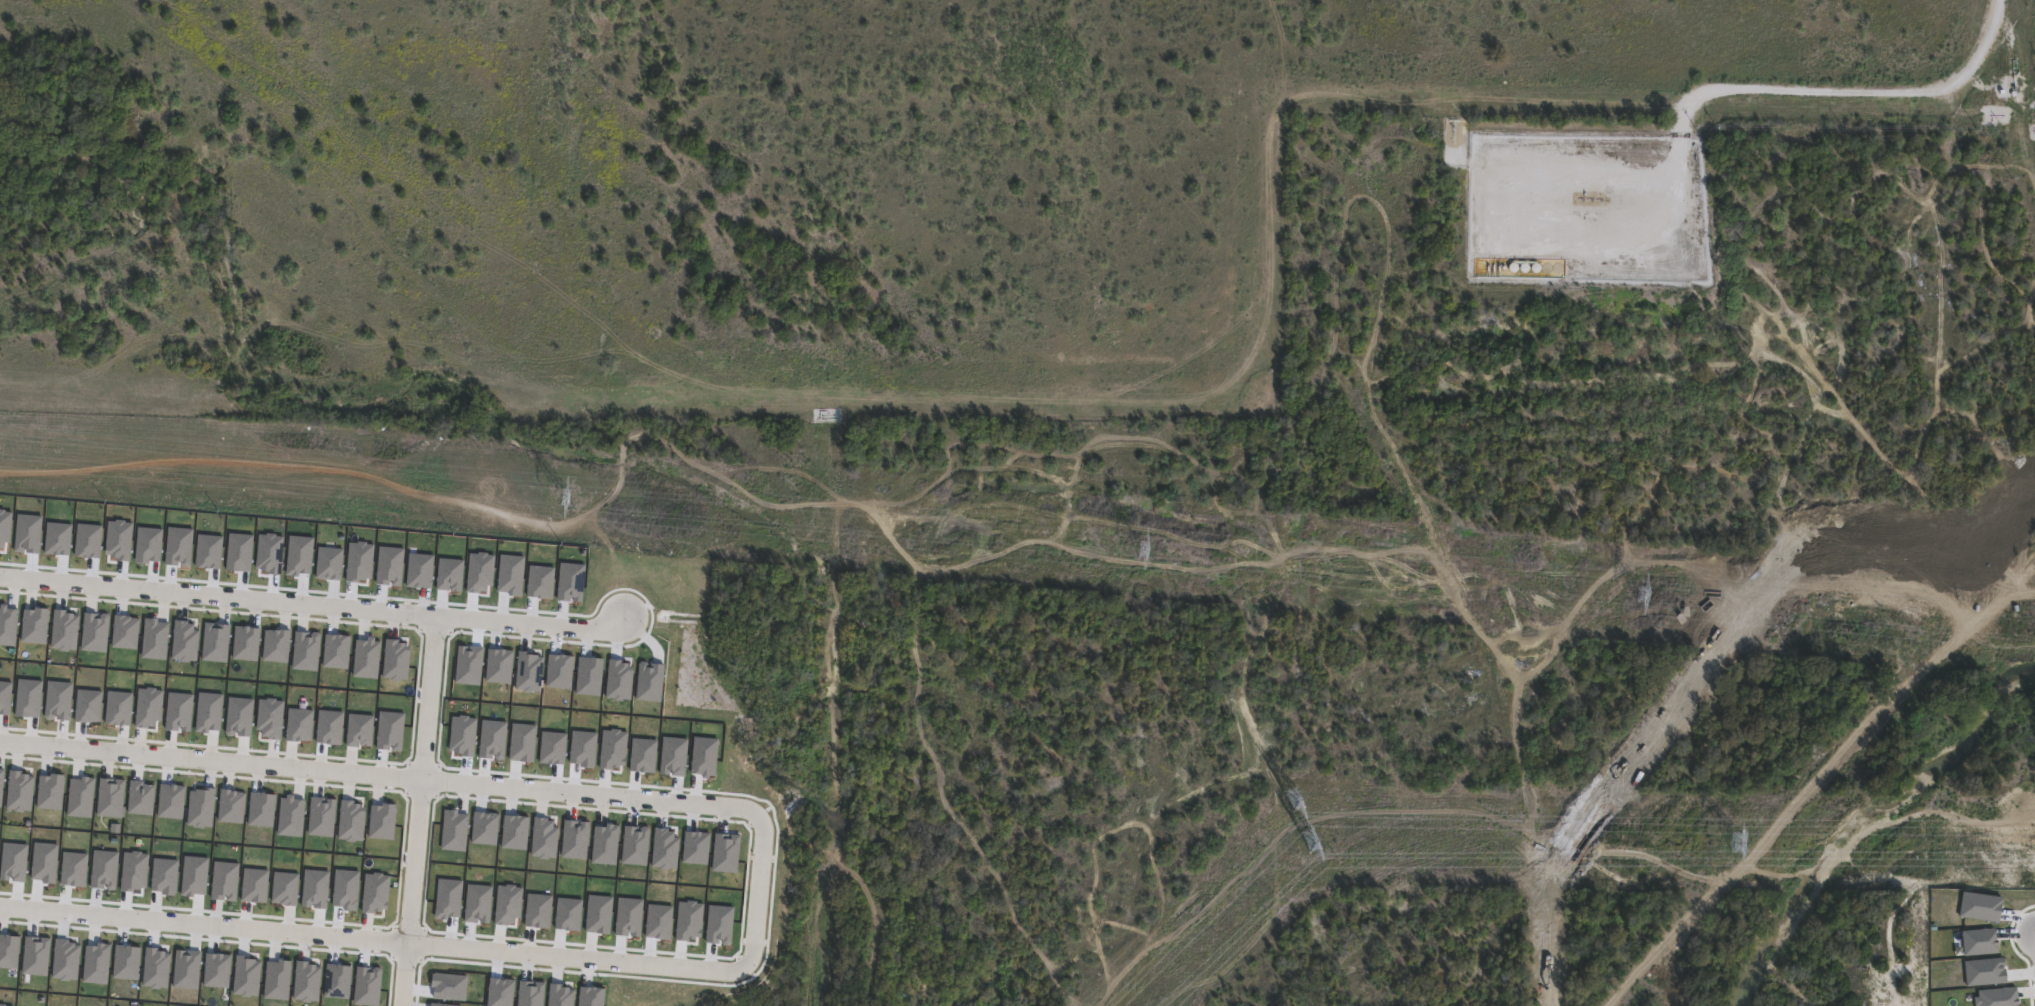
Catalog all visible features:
road: (1855, 92)
power tower: (565, 499)
power tower: (1143, 550)
power tower: (1644, 597)
road: (312, 603)
road: (430, 780)
power tower: (1738, 837)
power tower: (1312, 838)
road: (761, 882)
park: (1448, 946)
road: (414, 976)

